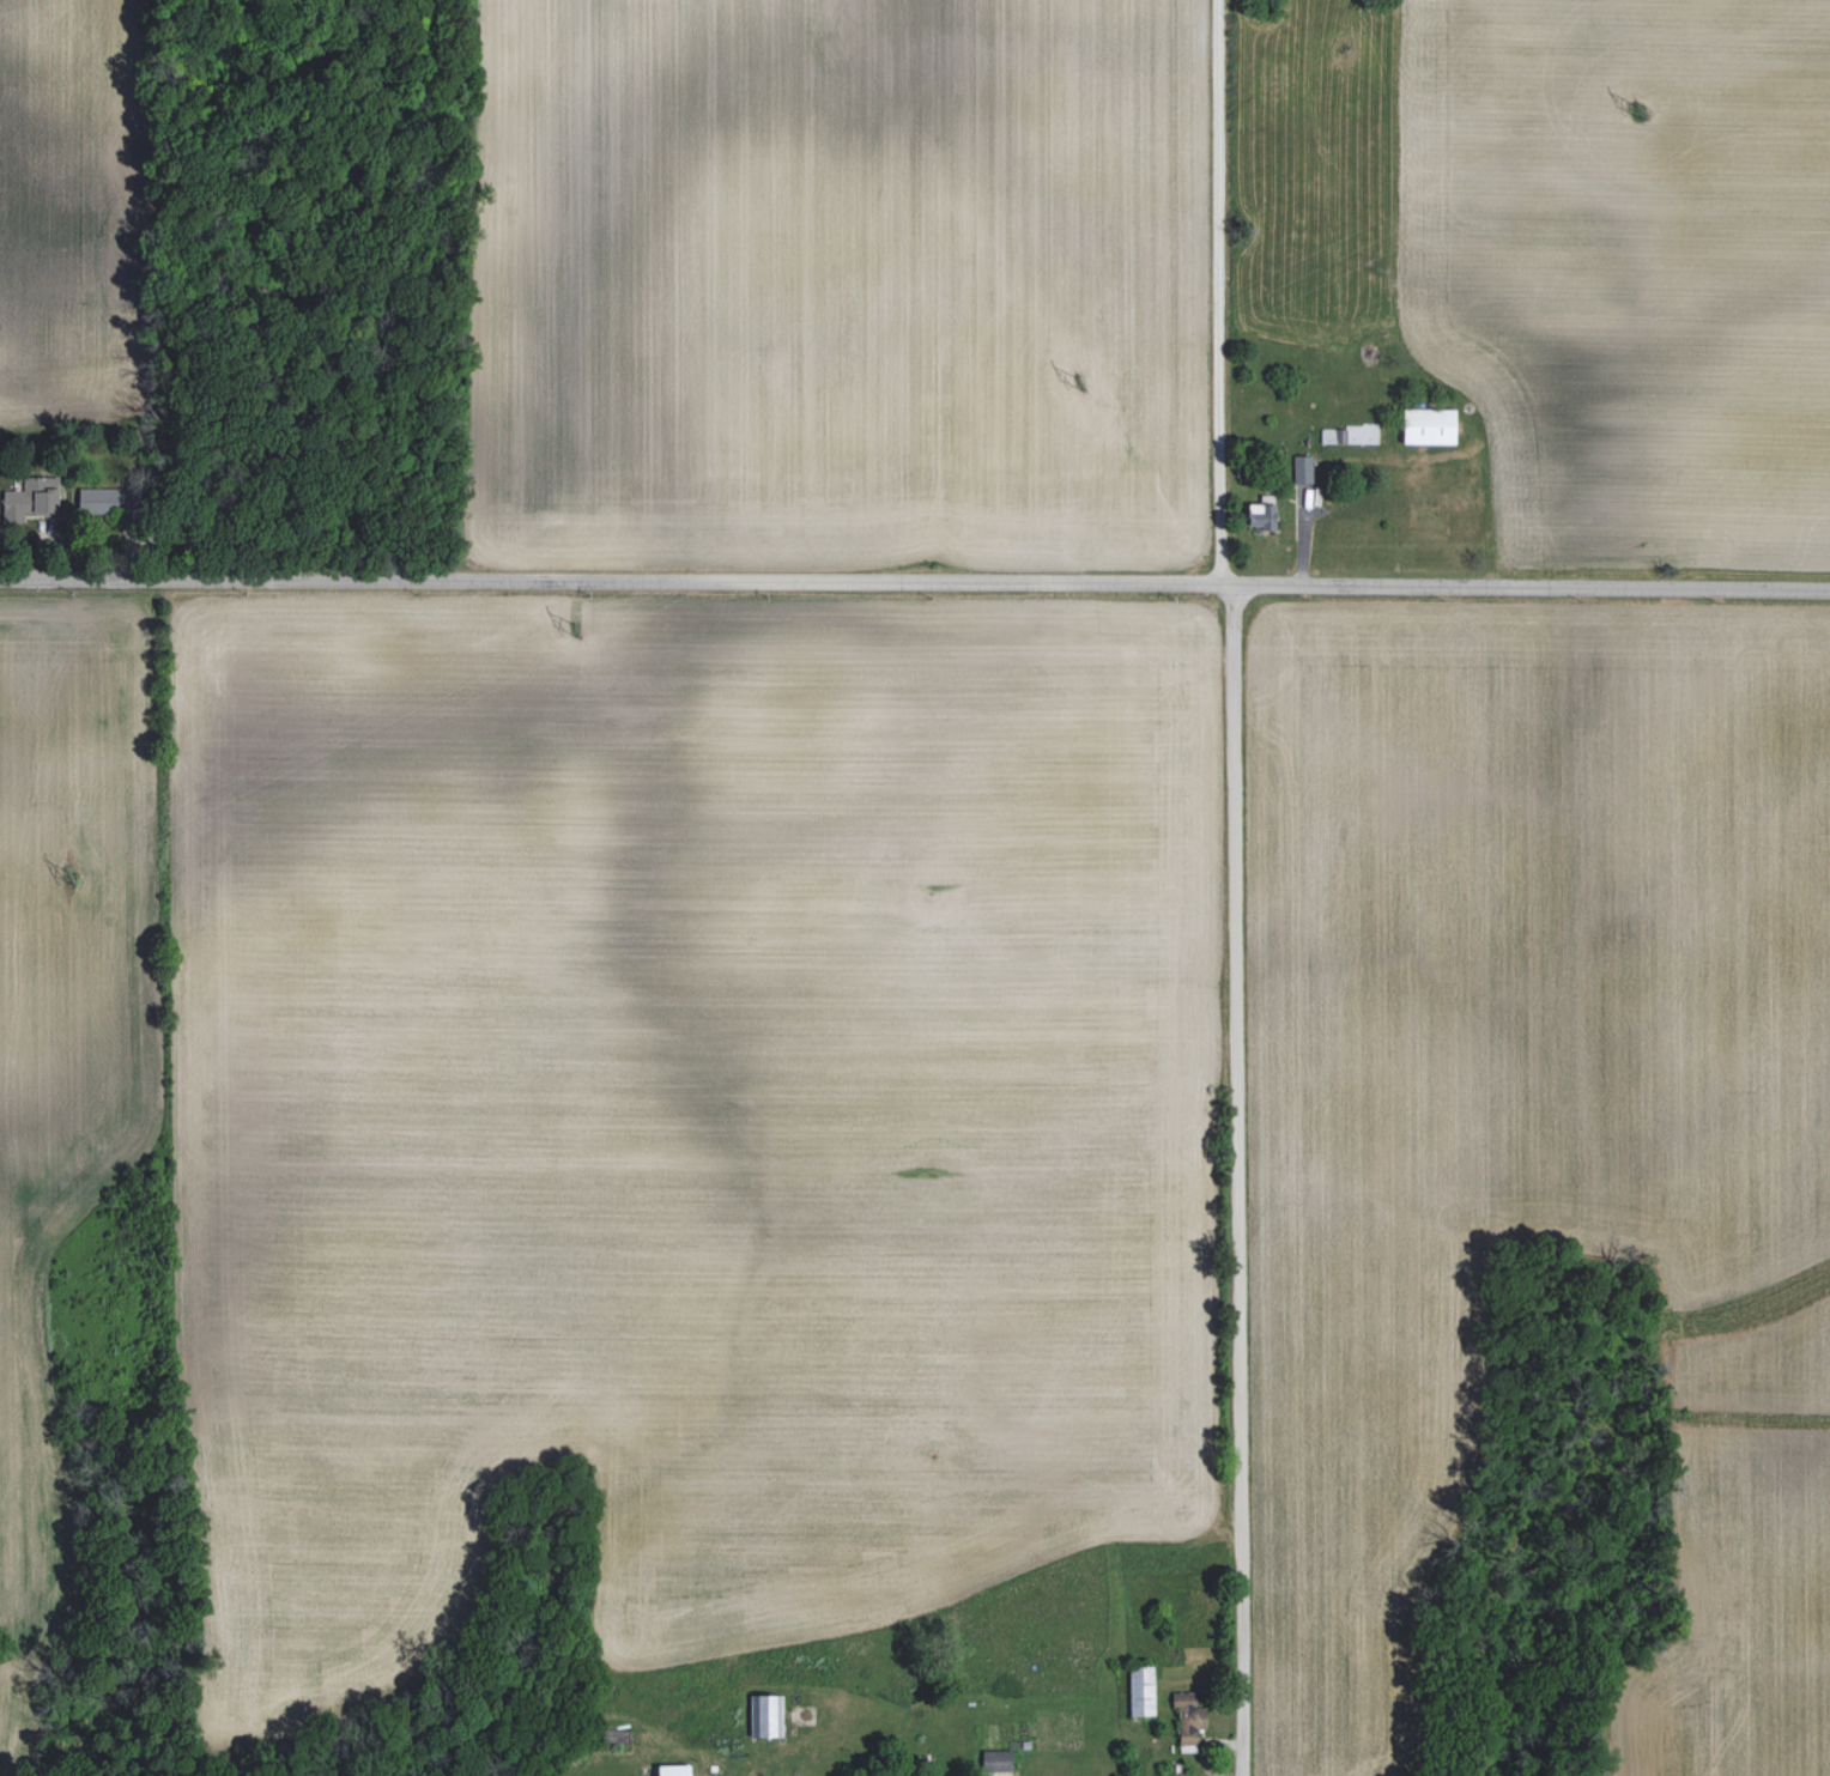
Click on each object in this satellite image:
power tower: (1640, 109)
power tower: (1077, 383)
building: (1429, 425)
building: (30, 502)
road: (915, 587)
power tower: (574, 631)
power tower: (71, 878)
road: (1231, 886)
building: (1141, 1690)
building: (766, 1715)
building: (1189, 1717)
building: (996, 1760)
building: (674, 1770)

